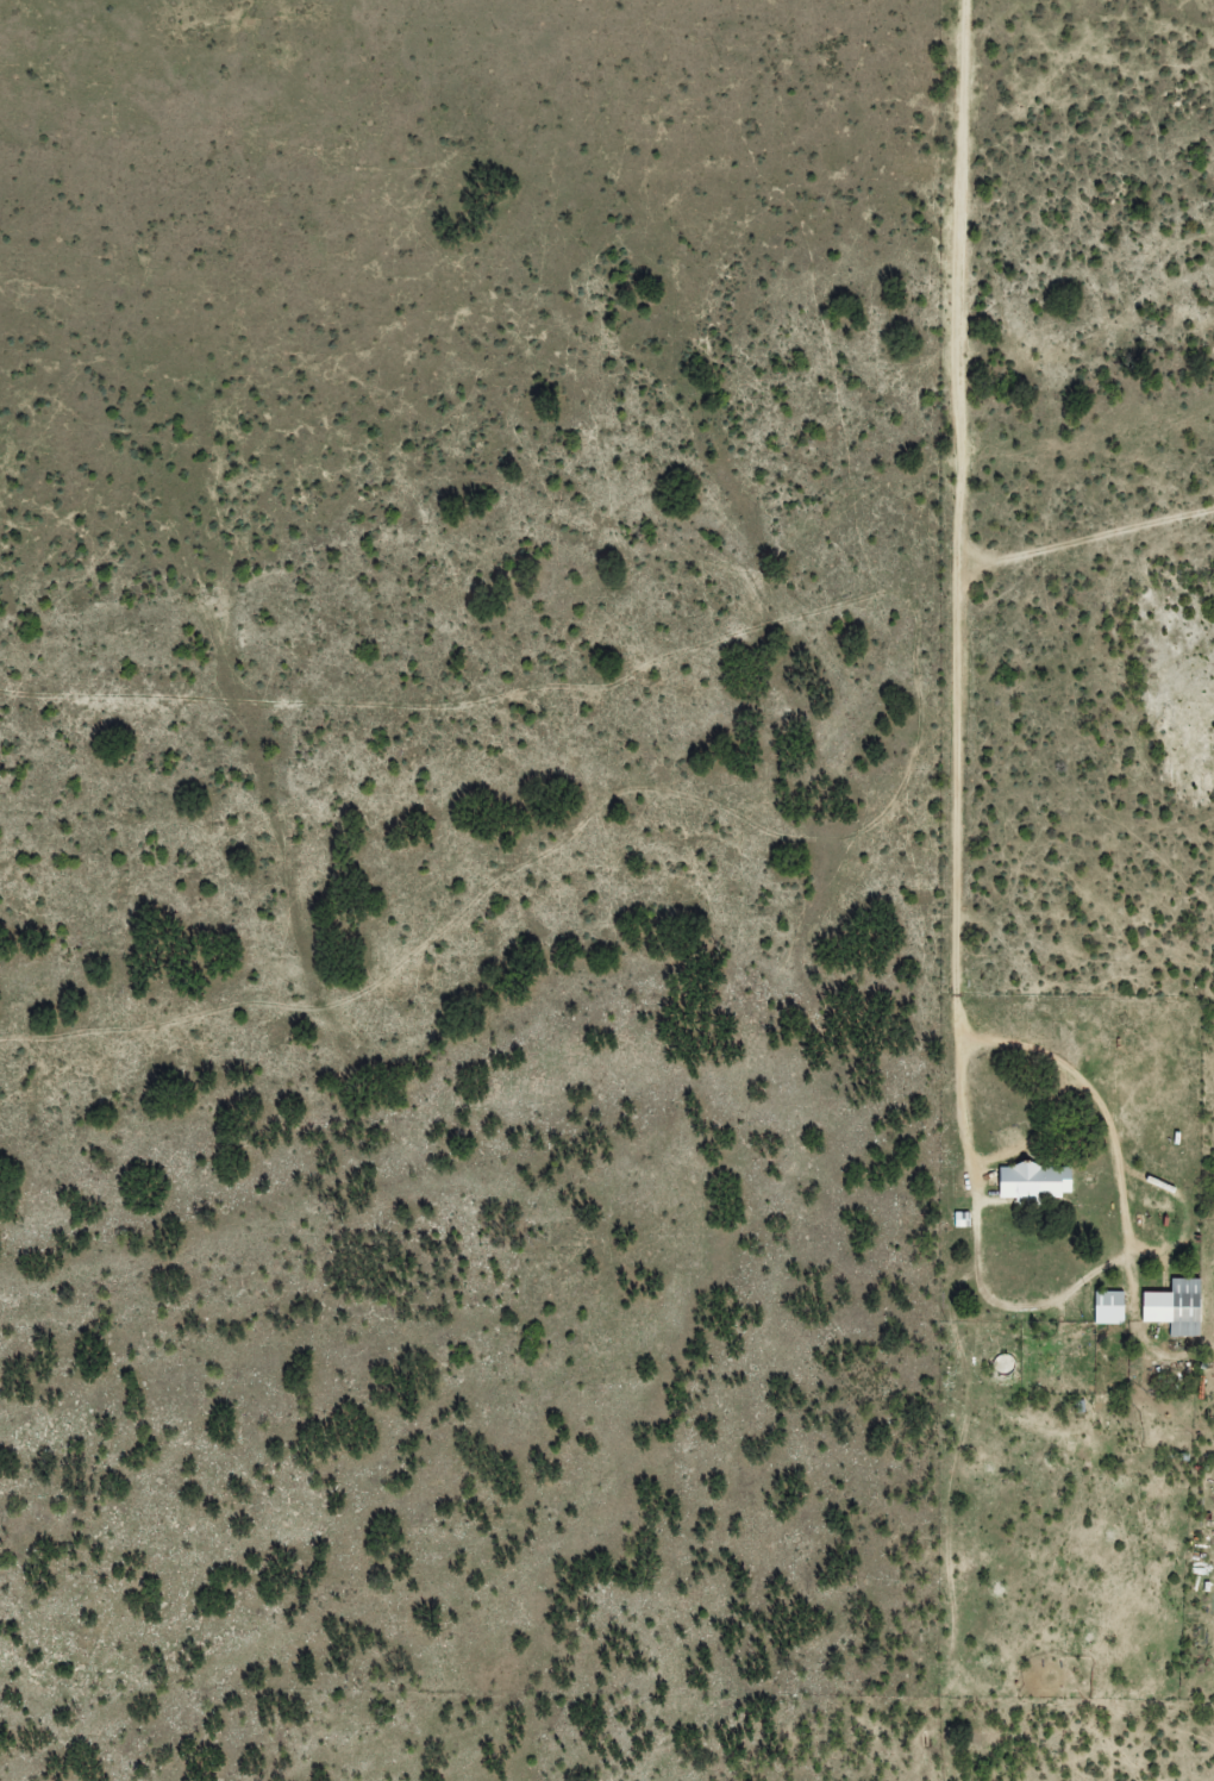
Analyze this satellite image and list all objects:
road: (621, 682)
road: (931, 760)
building: (1037, 1180)
building: (1108, 1306)
building: (1174, 1306)

